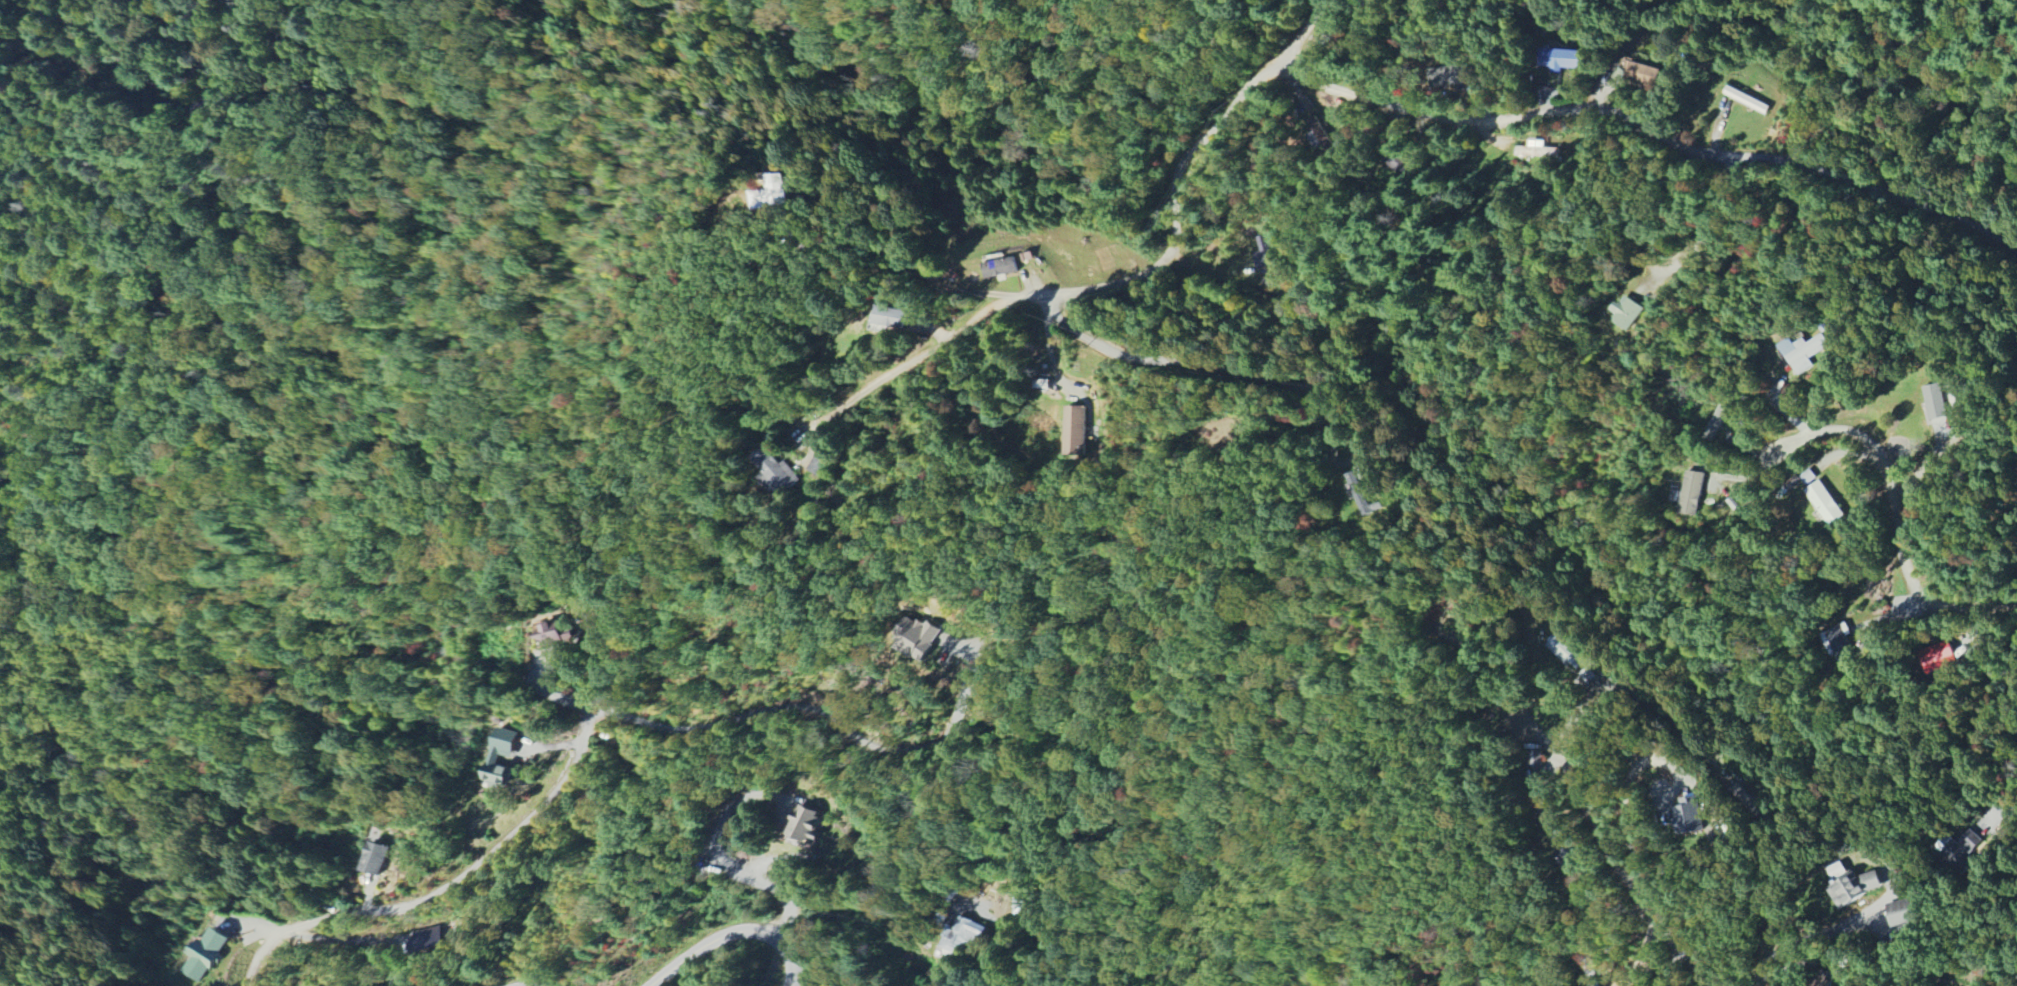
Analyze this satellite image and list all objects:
road: (1300, 32)
building: (1561, 59)
road: (1650, 128)
building: (1536, 150)
building: (773, 191)
road: (1174, 203)
road: (1705, 234)
building: (1259, 257)
road: (910, 263)
building: (998, 268)
building: (1625, 313)
building: (886, 318)
road: (938, 345)
building: (1801, 352)
road: (1187, 361)
building: (1933, 402)
building: (1715, 423)
building: (1073, 430)
building: (1692, 493)
building: (1824, 502)
road: (1892, 512)
building: (555, 633)
building: (914, 637)
building: (1838, 639)
building: (1564, 652)
road: (966, 685)
road: (1985, 713)
road: (576, 757)
building: (1534, 758)
building: (492, 761)
road: (1627, 805)
building: (1687, 815)
building: (803, 828)
building: (1957, 850)
building: (373, 860)
road: (720, 860)
road: (1623, 875)
building: (1851, 888)
building: (1020, 904)
building: (1900, 913)
road: (735, 931)
building: (963, 934)
road: (1815, 935)
building: (426, 940)
building: (203, 955)

